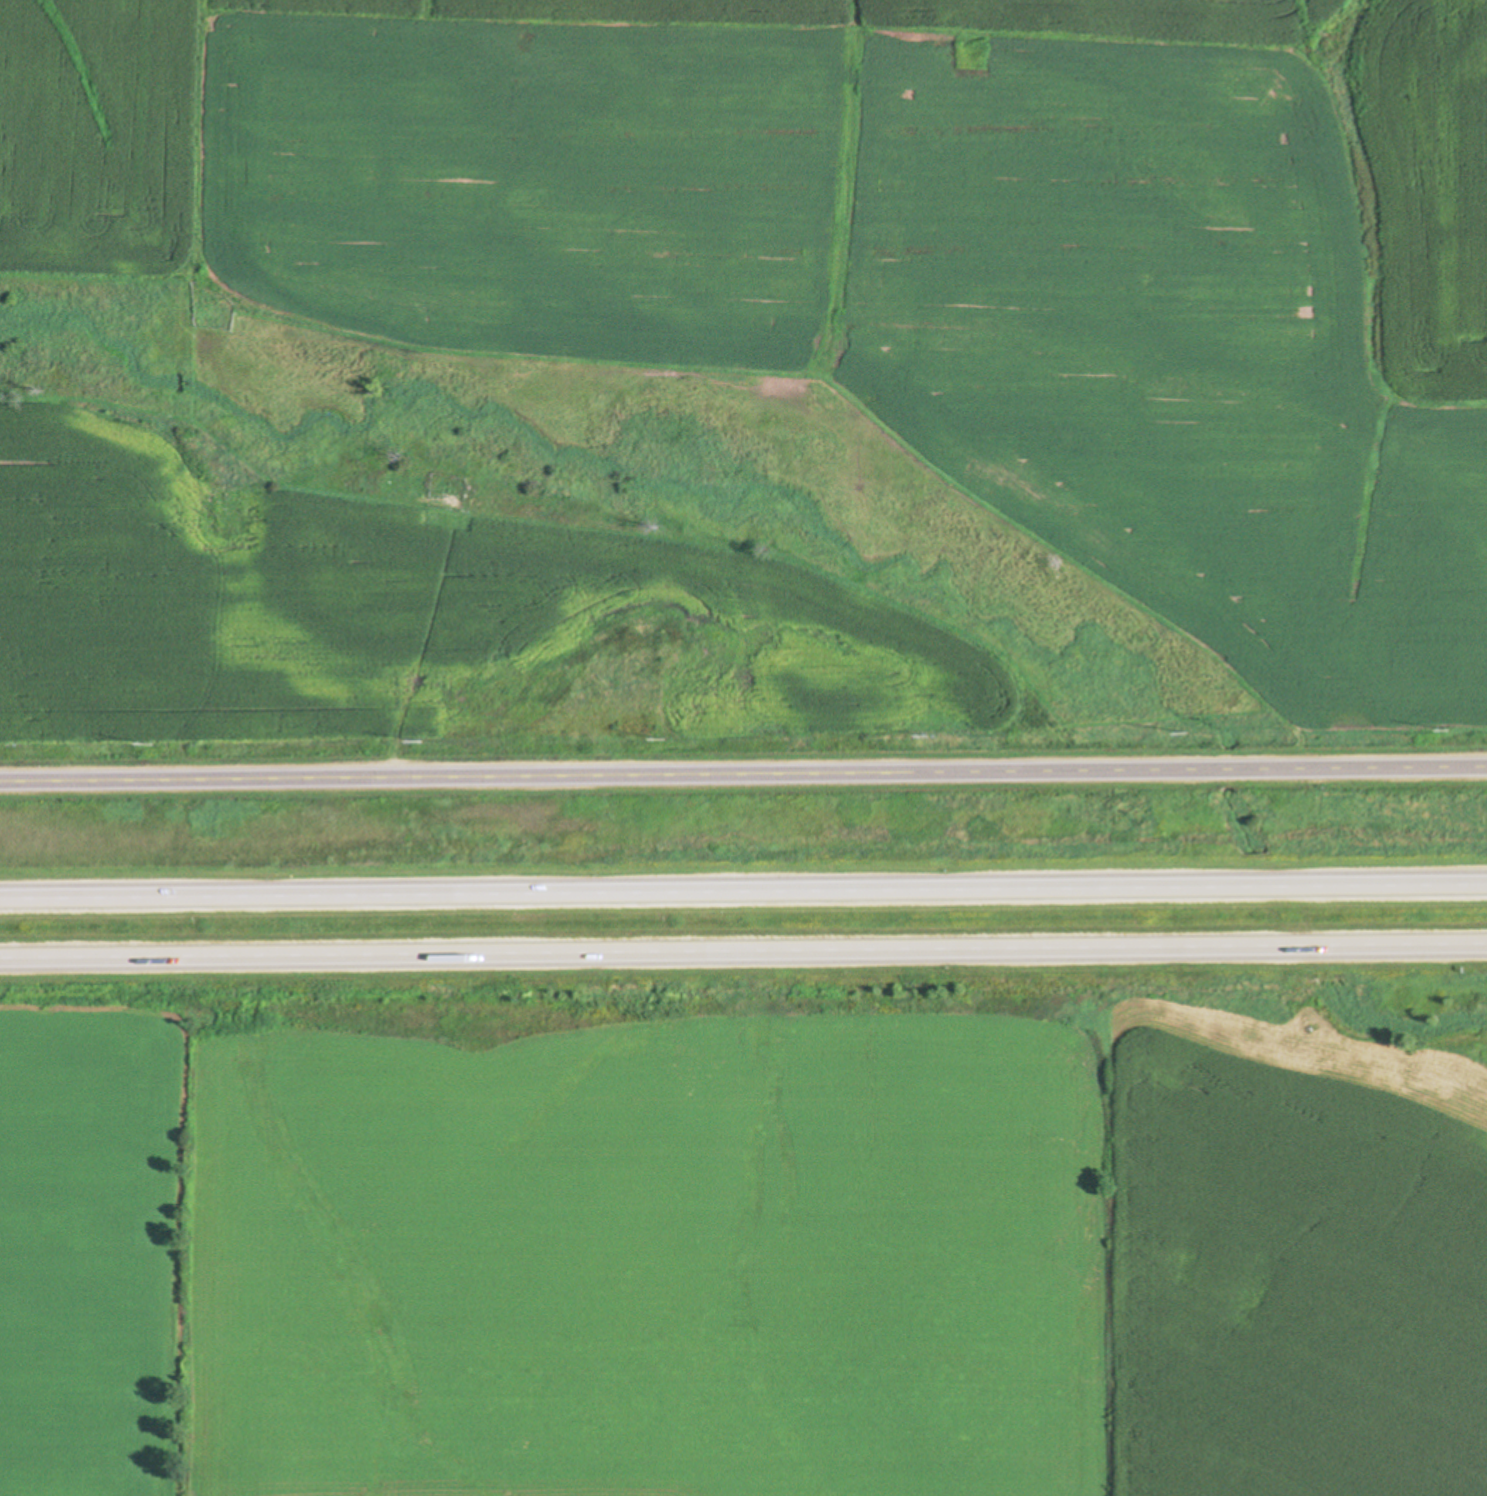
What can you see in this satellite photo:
road: (743, 776)
road: (743, 884)
road: (743, 946)
building: (98, 956)
crop: (733, 1252)

